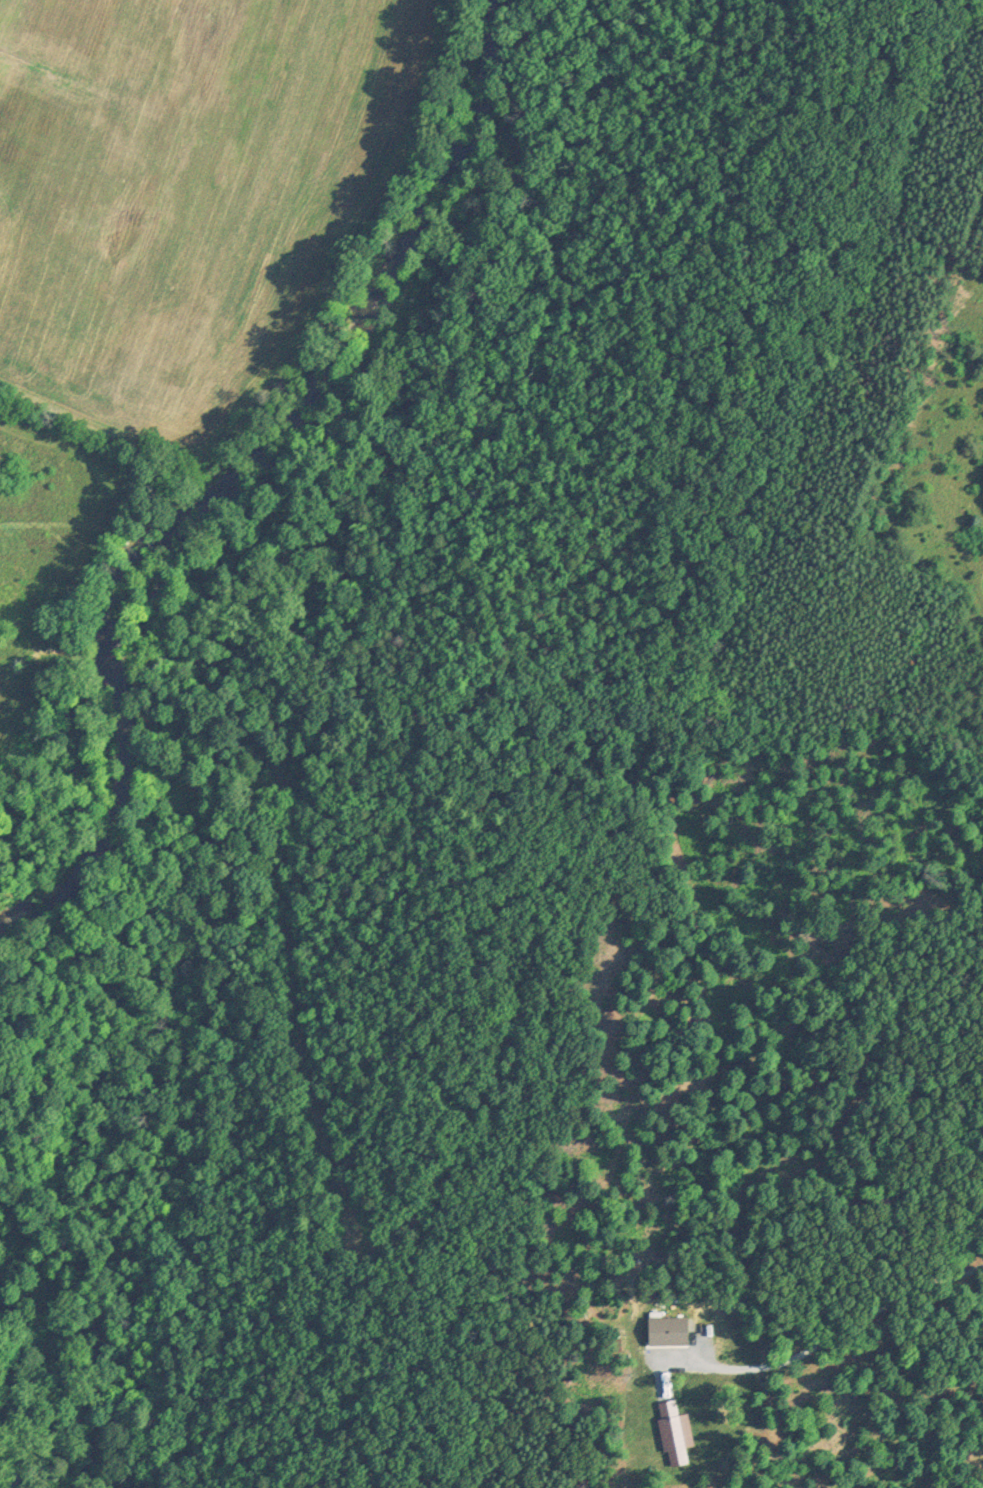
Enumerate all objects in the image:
river: (236, 470)

